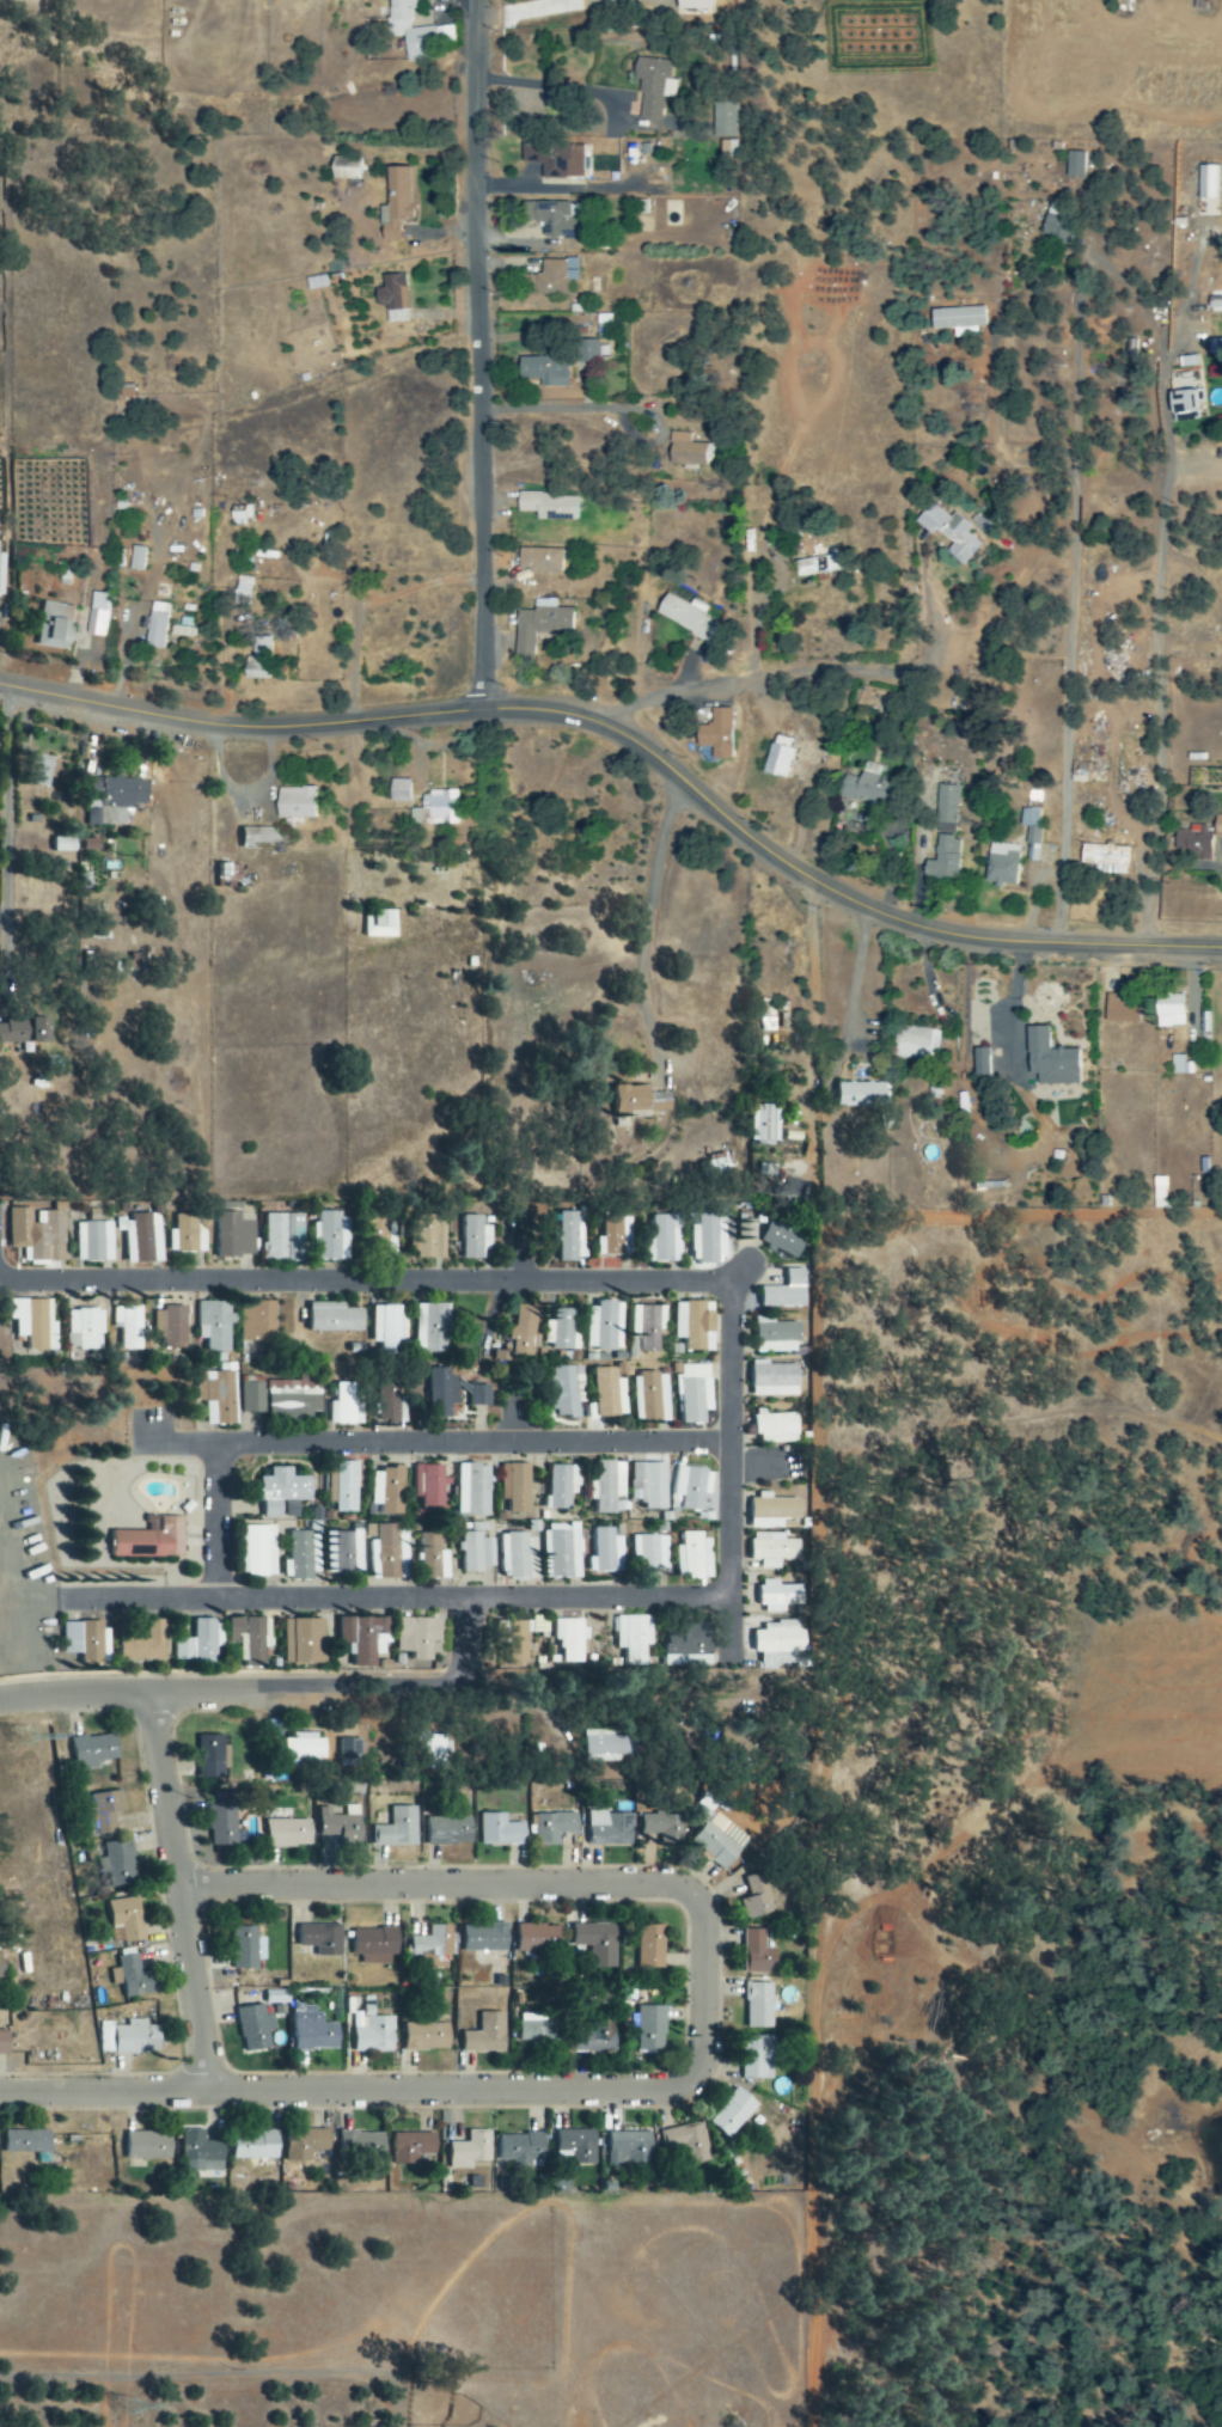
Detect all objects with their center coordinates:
building: (692, 5)
building: (1198, 5)
building: (409, 31)
building: (652, 87)
building: (722, 120)
building: (554, 159)
building: (1073, 164)
building: (343, 172)
building: (393, 202)
building: (640, 207)
building: (555, 219)
building: (1057, 220)
building: (549, 277)
building: (391, 298)
building: (957, 320)
building: (1214, 348)
building: (585, 351)
road: (479, 355)
building: (545, 367)
building: (966, 398)
building: (1184, 403)
road: (566, 409)
building: (685, 451)
building: (548, 506)
building: (948, 532)
building: (538, 561)
building: (819, 566)
building: (2, 573)
building: (100, 615)
building: (685, 616)
road: (1069, 617)
building: (538, 624)
building: (159, 625)
building: (57, 626)
building: (262, 659)
road: (757, 674)
building: (715, 734)
road: (635, 739)
building: (775, 762)
building: (42, 771)
building: (864, 785)
building: (403, 790)
building: (116, 800)
building: (300, 803)
building: (438, 809)
building: (945, 809)
building: (1217, 826)
building: (1029, 831)
building: (261, 837)
building: (63, 844)
building: (92, 845)
building: (1191, 845)
building: (1104, 857)
building: (942, 858)
building: (1000, 864)
road: (484, 897)
road: (648, 910)
building: (381, 924)
building: (1120, 1010)
building: (1168, 1010)
building: (25, 1029)
building: (915, 1044)
building: (1049, 1060)
building: (978, 1062)
building: (1180, 1065)
building: (857, 1095)
building: (641, 1100)
building: (762, 1124)
building: (715, 1163)
building: (37, 1233)
building: (280, 1234)
building: (234, 1235)
building: (331, 1236)
building: (570, 1236)
building: (141, 1237)
building: (611, 1237)
building: (426, 1239)
building: (475, 1239)
building: (665, 1239)
building: (709, 1239)
building: (94, 1241)
building: (783, 1241)
building: (787, 1291)
road: (363, 1292)
building: (335, 1319)
building: (261, 1321)
building: (36, 1323)
building: (216, 1325)
building: (605, 1326)
building: (132, 1327)
building: (172, 1327)
building: (525, 1327)
building: (430, 1328)
building: (87, 1329)
building: (385, 1329)
building: (647, 1329)
building: (777, 1335)
building: (500, 1355)
building: (775, 1380)
building: (568, 1392)
building: (440, 1393)
building: (694, 1393)
building: (251, 1394)
building: (607, 1394)
building: (479, 1395)
building: (216, 1396)
building: (650, 1398)
building: (293, 1400)
building: (387, 1401)
building: (344, 1405)
road: (377, 1417)
building: (775, 1428)
road: (415, 1454)
building: (650, 1485)
building: (563, 1486)
building: (346, 1487)
building: (429, 1487)
building: (518, 1487)
building: (609, 1487)
building: (692, 1488)
building: (389, 1491)
building: (475, 1491)
road: (725, 1492)
building: (285, 1493)
building: (768, 1511)
road: (219, 1532)
building: (153, 1540)
building: (769, 1549)
building: (259, 1552)
building: (563, 1552)
building: (605, 1552)
building: (648, 1552)
building: (391, 1553)
building: (477, 1553)
building: (518, 1555)
building: (301, 1557)
building: (694, 1557)
building: (433, 1558)
building: (774, 1596)
road: (377, 1610)
building: (365, 1636)
building: (420, 1638)
building: (633, 1638)
building: (248, 1639)
building: (570, 1640)
building: (85, 1642)
building: (304, 1642)
building: (145, 1644)
building: (200, 1644)
building: (775, 1644)
road: (454, 1649)
building: (684, 1649)
road: (399, 1688)
power tower: (29, 1738)
building: (600, 1747)
building: (97, 1752)
building: (350, 1753)
building: (436, 1753)
building: (212, 1757)
building: (103, 1814)
building: (225, 1820)
building: (340, 1823)
building: (656, 1826)
building: (550, 1827)
building: (607, 1828)
building: (397, 1829)
building: (499, 1830)
building: (450, 1832)
building: (289, 1834)
building: (715, 1840)
building: (121, 1865)
road: (182, 1894)
building: (753, 1896)
building: (129, 1919)
building: (479, 1938)
building: (536, 1938)
building: (323, 1940)
building: (594, 1942)
building: (429, 1944)
building: (373, 1945)
building: (647, 1946)
building: (249, 1949)
building: (753, 1952)
building: (2, 1968)
building: (133, 1977)
building: (754, 2005)
building: (647, 2028)
building: (256, 2029)
building: (311, 2029)
building: (536, 2031)
building: (483, 2035)
building: (372, 2036)
building: (422, 2036)
building: (592, 2036)
building: (132, 2040)
building: (5, 2043)
building: (753, 2056)
road: (697, 2076)
building: (729, 2114)
building: (28, 2142)
building: (684, 2142)
building: (301, 2144)
building: (249, 2145)
building: (573, 2145)
building: (358, 2146)
building: (149, 2147)
building: (408, 2147)
building: (515, 2147)
building: (625, 2147)
building: (465, 2151)
building: (195, 2152)
road: (236, 2366)
power tower: (134, 2410)

